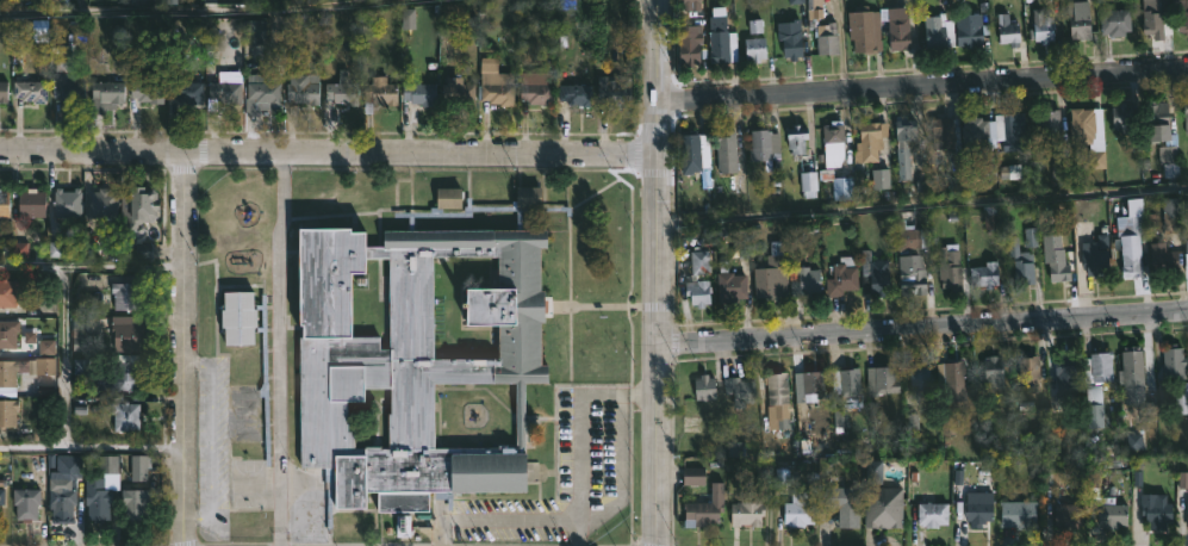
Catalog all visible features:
building: (691, 6)
building: (813, 11)
building: (1181, 14)
road: (216, 18)
building: (1155, 18)
building: (1077, 20)
building: (1113, 21)
building: (757, 29)
building: (969, 29)
building: (896, 30)
building: (1006, 30)
building: (1043, 30)
building: (863, 31)
building: (256, 32)
building: (937, 32)
building: (722, 38)
building: (788, 38)
building: (825, 38)
building: (692, 46)
building: (757, 49)
building: (69, 82)
road: (922, 85)
building: (149, 87)
building: (304, 88)
building: (31, 89)
building: (343, 89)
building: (188, 91)
building: (460, 91)
building: (616, 91)
building: (2, 92)
building: (262, 93)
building: (379, 93)
building: (498, 93)
building: (421, 94)
building: (537, 94)
building: (224, 95)
building: (577, 95)
building: (107, 97)
building: (1124, 118)
building: (1047, 124)
building: (1080, 125)
building: (1009, 131)
building: (971, 132)
building: (1159, 132)
building: (834, 136)
building: (945, 136)
building: (794, 138)
building: (867, 142)
building: (761, 144)
building: (902, 145)
building: (727, 150)
road: (326, 153)
building: (689, 155)
building: (493, 193)
building: (531, 194)
building: (452, 197)
building: (4, 201)
building: (33, 201)
building: (69, 201)
building: (105, 201)
building: (144, 204)
building: (244, 205)
road: (921, 206)
building: (1169, 213)
building: (238, 253)
building: (1186, 255)
building: (1161, 256)
building: (1055, 261)
building: (1093, 261)
building: (701, 262)
building: (1130, 262)
building: (1019, 263)
road: (69, 272)
road: (654, 272)
building: (770, 274)
building: (872, 274)
building: (982, 274)
building: (948, 275)
building: (840, 277)
building: (912, 277)
building: (801, 280)
building: (728, 285)
building: (8, 292)
building: (696, 292)
building: (127, 294)
building: (241, 319)
road: (921, 325)
building: (8, 333)
building: (127, 333)
building: (80, 334)
road: (184, 348)
road: (278, 348)
road: (66, 359)
building: (416, 362)
building: (1173, 364)
building: (1130, 365)
building: (1097, 366)
building: (1063, 368)
building: (991, 372)
building: (1027, 372)
building: (127, 374)
building: (8, 378)
building: (879, 380)
building: (920, 381)
building: (847, 383)
building: (810, 385)
building: (702, 387)
building: (738, 391)
building: (775, 391)
building: (950, 393)
building: (1182, 404)
building: (1093, 407)
building: (8, 411)
building: (126, 416)
road: (92, 446)
road: (579, 452)
building: (693, 478)
building: (1, 498)
building: (27, 503)
building: (63, 503)
building: (99, 503)
building: (135, 503)
building: (841, 504)
building: (881, 507)
building: (1101, 507)
building: (702, 508)
building: (976, 508)
building: (1186, 509)
building: (745, 510)
building: (1153, 510)
building: (796, 514)
building: (931, 514)
building: (1015, 514)
building: (1066, 516)
road: (591, 517)

